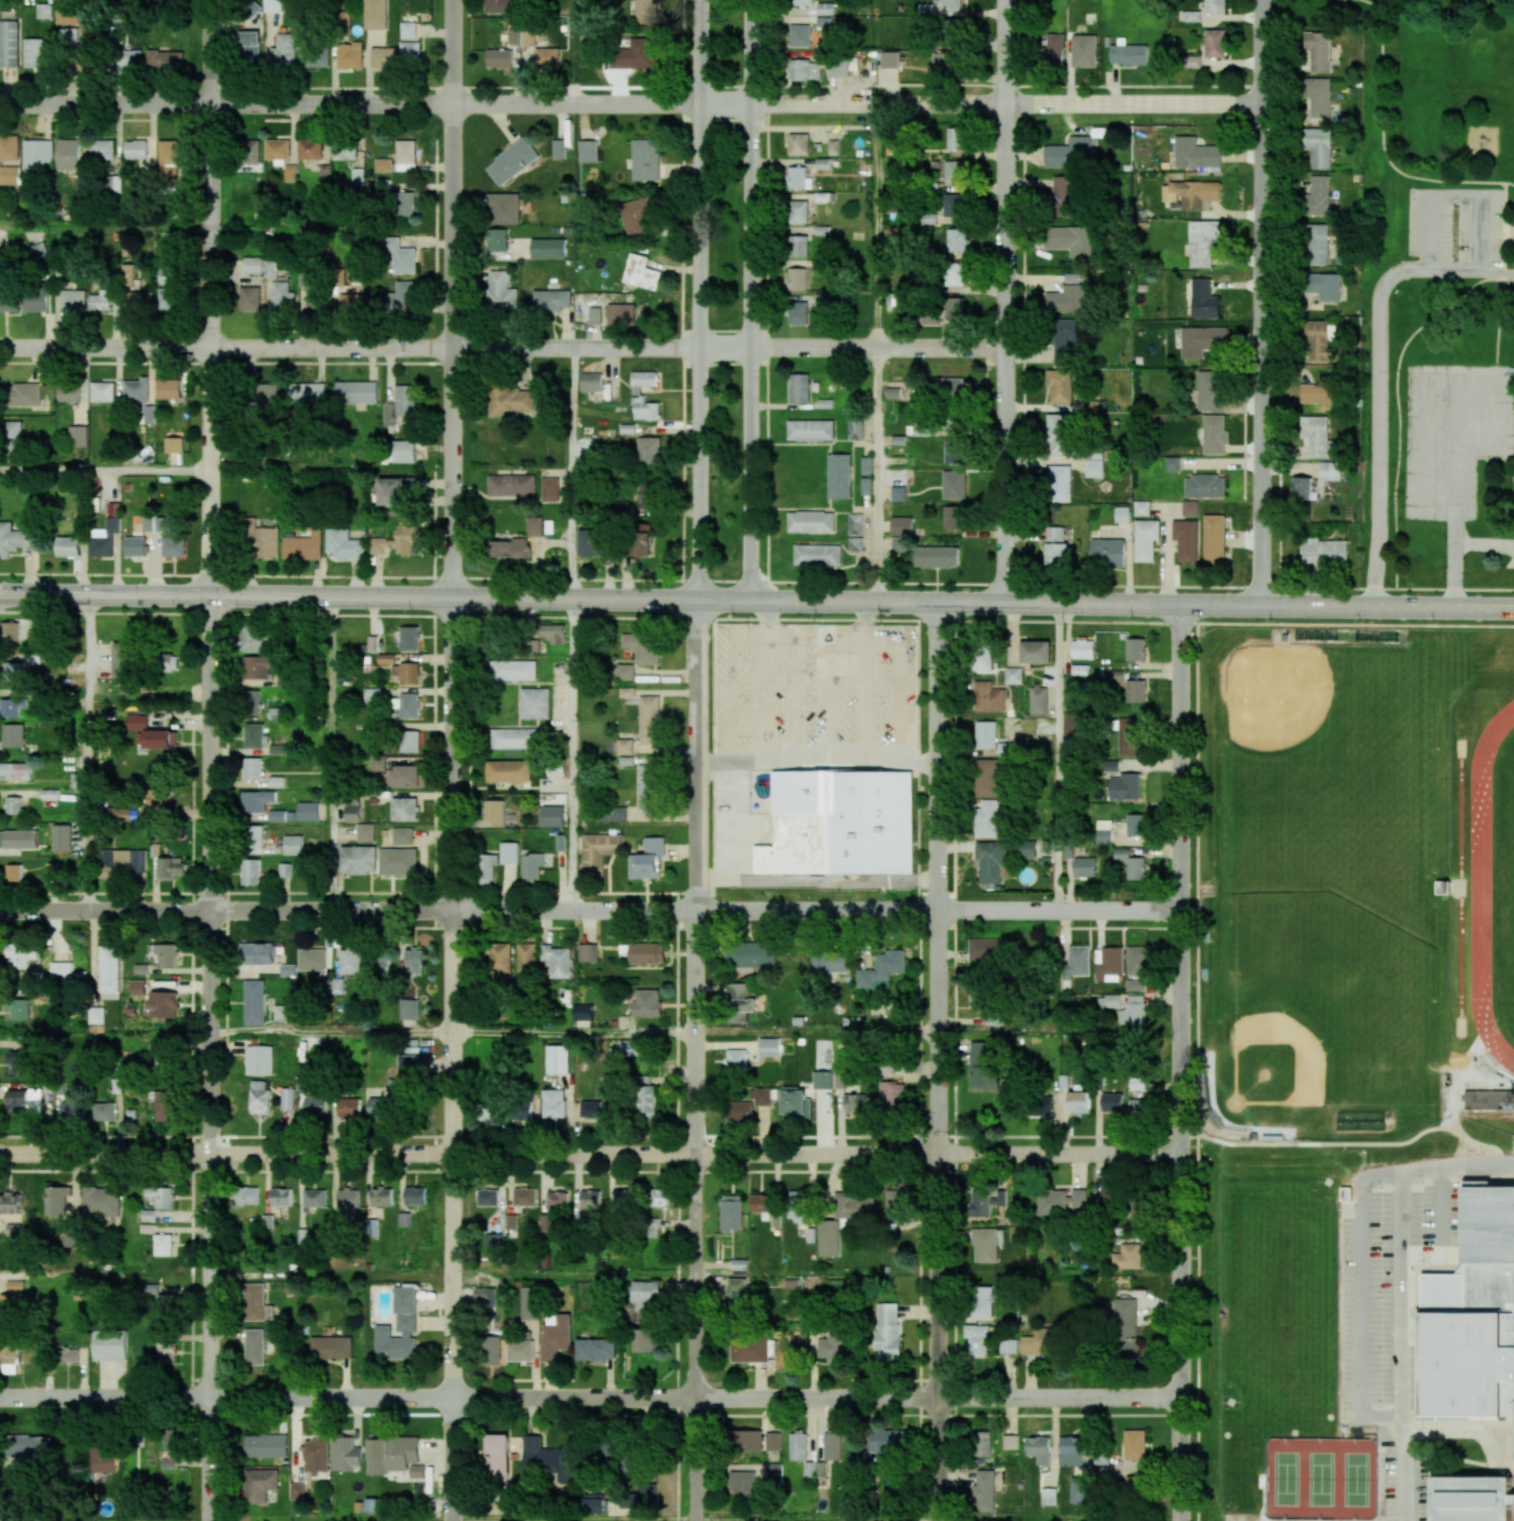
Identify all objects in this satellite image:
building: (802, 2)
building: (951, 4)
building: (272, 6)
building: (499, 6)
building: (1215, 6)
building: (824, 8)
building: (924, 9)
building: (44, 11)
building: (644, 11)
building: (67, 14)
building: (375, 14)
building: (1191, 16)
building: (953, 28)
building: (408, 30)
building: (513, 34)
building: (799, 35)
building: (528, 37)
building: (1215, 43)
building: (9, 44)
building: (249, 46)
building: (284, 50)
building: (585, 50)
building: (1052, 50)
building: (1084, 50)
building: (1318, 50)
building: (35, 52)
road: (574, 52)
road: (1260, 52)
building: (410, 53)
building: (1128, 53)
building: (635, 54)
building: (350, 55)
building: (316, 56)
building: (382, 57)
building: (547, 57)
building: (499, 58)
building: (129, 59)
building: (889, 59)
building: (165, 60)
building: (947, 63)
building: (804, 69)
building: (838, 69)
building: (1319, 96)
road: (979, 104)
road: (350, 105)
building: (956, 138)
park: (1433, 138)
road: (1382, 143)
building: (799, 144)
building: (1319, 146)
building: (833, 147)
building: (9, 148)
building: (309, 148)
building: (559, 148)
building: (102, 149)
building: (135, 149)
building: (344, 150)
building: (277, 151)
building: (588, 151)
building: (250, 152)
building: (1069, 153)
building: (36, 154)
building: (68, 154)
building: (1196, 154)
building: (405, 155)
building: (168, 159)
building: (645, 159)
building: (512, 161)
building: (822, 164)
building: (383, 165)
building: (955, 171)
building: (290, 172)
building: (9, 174)
building: (357, 176)
building: (799, 178)
building: (113, 183)
building: (1191, 193)
building: (1063, 195)
building: (1317, 196)
road: (1455, 199)
building: (405, 203)
building: (953, 205)
building: (503, 208)
building: (797, 212)
building: (637, 214)
road: (104, 226)
road: (876, 226)
building: (497, 240)
building: (956, 240)
building: (1069, 240)
building: (1202, 241)
building: (1317, 244)
building: (798, 246)
building: (548, 248)
building: (40, 250)
building: (399, 256)
building: (251, 264)
building: (640, 272)
building: (128, 274)
building: (167, 274)
building: (954, 274)
building: (1072, 278)
building: (797, 279)
building: (1324, 286)
park: (725, 291)
building: (501, 292)
building: (404, 294)
building: (282, 295)
building: (168, 297)
road: (209, 298)
road: (454, 298)
building: (822, 298)
building: (249, 299)
road: (750, 299)
road: (768, 299)
building: (1066, 299)
building: (1204, 299)
building: (23, 300)
building: (101, 300)
building: (138, 300)
building: (552, 300)
road: (682, 300)
road: (700, 300)
building: (73, 301)
building: (349, 301)
road: (1006, 301)
building: (943, 310)
building: (798, 313)
building: (622, 314)
building: (1064, 340)
building: (1202, 341)
road: (350, 348)
road: (853, 348)
road: (1259, 355)
road: (1380, 378)
building: (643, 380)
building: (591, 381)
road: (1434, 384)
building: (1060, 386)
building: (168, 388)
building: (799, 388)
building: (948, 388)
building: (1210, 390)
building: (102, 391)
building: (135, 391)
building: (1319, 391)
building: (357, 392)
building: (68, 393)
building: (305, 393)
building: (900, 393)
building: (22, 394)
building: (267, 395)
building: (510, 401)
building: (400, 404)
building: (1090, 406)
building: (645, 409)
building: (149, 414)
road: (1499, 419)
building: (855, 427)
building: (923, 429)
building: (810, 430)
building: (1058, 434)
building: (1214, 434)
building: (1316, 434)
building: (78, 435)
building: (173, 444)
building: (403, 451)
building: (649, 451)
building: (1172, 464)
building: (866, 465)
building: (1093, 465)
road: (104, 471)
building: (1330, 471)
road: (573, 473)
road: (875, 474)
building: (839, 476)
building: (1059, 483)
building: (954, 484)
building: (511, 485)
building: (866, 486)
building: (1204, 486)
building: (1302, 488)
building: (550, 489)
building: (395, 490)
building: (898, 493)
building: (645, 495)
building: (623, 508)
building: (1142, 508)
building: (1190, 508)
building: (1122, 514)
building: (952, 517)
building: (113, 518)
building: (810, 521)
building: (154, 523)
building: (854, 523)
building: (900, 525)
building: (534, 526)
building: (14, 538)
building: (263, 538)
building: (1215, 538)
building: (1146, 539)
building: (643, 540)
building: (1186, 540)
building: (400, 541)
building: (593, 542)
building: (854, 543)
building: (344, 544)
building: (898, 544)
road: (1485, 544)
building: (68, 546)
building: (135, 546)
building: (173, 546)
building: (303, 546)
building: (1056, 546)
building: (510, 547)
building: (1322, 551)
building: (1107, 552)
building: (817, 555)
building: (936, 556)
road: (1456, 560)
road: (349, 597)
road: (939, 601)
road: (1347, 605)
road: (757, 618)
road: (767, 621)
road: (866, 621)
building: (13, 631)
building: (554, 633)
building: (409, 638)
building: (255, 639)
building: (643, 647)
building: (1083, 649)
building: (1135, 649)
building: (1035, 651)
building: (983, 658)
building: (121, 659)
building: (169, 662)
building: (258, 666)
building: (21, 668)
building: (513, 670)
building: (407, 672)
building: (624, 672)
building: (1013, 675)
building: (1135, 691)
building: (372, 694)
building: (988, 697)
building: (251, 700)
building: (1038, 700)
road: (767, 701)
road: (819, 702)
road: (867, 702)
building: (534, 703)
building: (407, 705)
building: (13, 707)
park: (1295, 719)
building: (649, 720)
building: (150, 733)
building: (986, 734)
building: (12, 735)
building: (253, 735)
building: (1128, 737)
building: (513, 738)
building: (410, 741)
building: (624, 746)
building: (278, 748)
building: (1005, 749)
road: (89, 753)
road: (332, 753)
road: (573, 754)
road: (1058, 756)
road: (715, 760)
road: (770, 760)
road: (922, 761)
building: (377, 762)
building: (252, 768)
building: (15, 771)
building: (508, 771)
building: (556, 771)
building: (405, 776)
building: (986, 778)
building: (1124, 786)
building: (648, 788)
building: (50, 794)
building: (160, 798)
building: (256, 800)
building: (14, 805)
building: (352, 809)
building: (405, 809)
building: (308, 811)
building: (495, 812)
building: (614, 814)
building: (987, 818)
building: (840, 823)
building: (1136, 825)
building: (1104, 830)
building: (365, 832)
road: (732, 834)
building: (402, 836)
building: (62, 837)
building: (18, 839)
building: (253, 839)
building: (293, 845)
building: (1027, 848)
building: (599, 851)
building: (509, 852)
building: (358, 859)
building: (647, 859)
building: (397, 861)
building: (122, 862)
building: (990, 862)
building: (1132, 864)
building: (531, 866)
building: (1085, 866)
building: (171, 868)
building: (485, 868)
building: (51, 870)
building: (285, 870)
building: (250, 871)
park: (1264, 871)
building: (14, 872)
park: (1354, 884)
track: (1485, 887)
park: (1511, 892)
road: (590, 909)
building: (986, 948)
building: (588, 952)
building: (166, 953)
building: (257, 953)
building: (647, 953)
building: (752, 955)
building: (22, 957)
building: (526, 957)
building: (311, 959)
building: (557, 960)
building: (349, 961)
building: (414, 961)
building: (381, 962)
building: (501, 962)
building: (828, 962)
building: (1076, 962)
building: (1108, 964)
building: (1136, 968)
building: (109, 969)
building: (61, 970)
building: (881, 970)
building: (137, 987)
building: (1111, 1000)
building: (254, 1002)
building: (739, 1002)
building: (647, 1003)
building: (164, 1004)
building: (17, 1008)
building: (408, 1009)
building: (1132, 1010)
building: (285, 1012)
building: (583, 1012)
building: (96, 1015)
building: (993, 1020)
road: (331, 1032)
road: (576, 1033)
road: (818, 1033)
building: (769, 1047)
building: (161, 1056)
road: (209, 1059)
road: (454, 1059)
building: (557, 1059)
building: (259, 1060)
road: (698, 1060)
building: (736, 1060)
building: (16, 1061)
road: (939, 1061)
road: (1181, 1063)
park: (1270, 1064)
building: (981, 1067)
building: (411, 1068)
building: (822, 1080)
building: (1137, 1083)
building: (892, 1094)
building: (646, 1095)
building: (259, 1097)
building: (761, 1097)
building: (287, 1099)
building: (1489, 1099)
building: (24, 1101)
building: (1078, 1102)
building: (1111, 1102)
building: (553, 1103)
building: (796, 1103)
building: (856, 1103)
building: (316, 1104)
building: (1040, 1104)
building: (163, 1106)
building: (349, 1107)
building: (379, 1107)
building: (1137, 1107)
building: (590, 1109)
building: (522, 1110)
building: (71, 1111)
building: (103, 1111)
building: (490, 1112)
building: (739, 1112)
road: (761, 1136)
road: (590, 1153)
road: (1457, 1164)
road: (421, 1171)
building: (247, 1195)
building: (415, 1195)
building: (161, 1196)
building: (382, 1196)
building: (524, 1196)
building: (280, 1197)
building: (348, 1197)
building: (487, 1197)
building: (658, 1197)
building: (314, 1198)
building: (557, 1199)
building: (590, 1199)
building: (620, 1199)
building: (57, 1200)
building: (986, 1200)
building: (1060, 1200)
building: (101, 1201)
building: (10, 1203)
building: (854, 1204)
building: (897, 1204)
building: (764, 1205)
building: (798, 1205)
building: (1136, 1210)
building: (731, 1213)
building: (404, 1219)
building: (829, 1238)
building: (163, 1244)
building: (494, 1244)
building: (986, 1244)
building: (1128, 1256)
building: (738, 1291)
building: (484, 1294)
building: (646, 1294)
building: (10, 1296)
road: (1361, 1299)
building: (167, 1300)
building: (405, 1300)
building: (529, 1302)
building: (983, 1302)
building: (257, 1303)
building: (1125, 1318)
building: (1473, 1318)
building: (887, 1331)
building: (555, 1335)
building: (977, 1338)
building: (397, 1339)
building: (646, 1340)
building: (1040, 1342)
building: (110, 1345)
building: (1007, 1345)
building: (254, 1346)
building: (832, 1346)
road: (1403, 1346)
building: (331, 1347)
building: (595, 1349)
building: (749, 1349)
building: (1129, 1349)
building: (491, 1350)
building: (520, 1350)
building: (167, 1352)
building: (67, 1355)
building: (9, 1357)
road: (590, 1396)
building: (748, 1440)
building: (772, 1440)
building: (887, 1440)
building: (1010, 1441)
building: (981, 1443)
building: (1134, 1444)
building: (266, 1445)
building: (798, 1445)
building: (832, 1446)
building: (30, 1447)
building: (171, 1449)
building: (1039, 1449)
building: (1071, 1451)
building: (392, 1453)
building: (316, 1454)
building: (345, 1454)
building: (497, 1456)
building: (1098, 1457)
building: (102, 1459)
building: (546, 1459)
building: (813, 1470)
building: (417, 1471)
building: (774, 1471)
park: (1284, 1478)
park: (1319, 1479)
park: (1354, 1479)
building: (259, 1484)
building: (742, 1484)
building: (984, 1490)
building: (1079, 1490)
building: (297, 1492)
building: (1048, 1496)
building: (1472, 1500)
building: (630, 1501)
building: (594, 1503)
building: (374, 1505)
road: (331, 1520)
road: (576, 1520)
road: (818, 1520)

